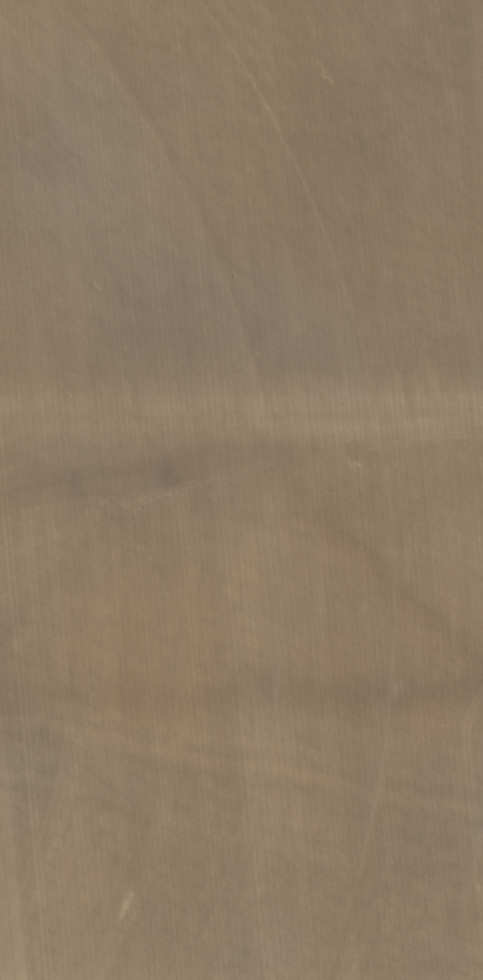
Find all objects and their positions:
road: (241, 426)

